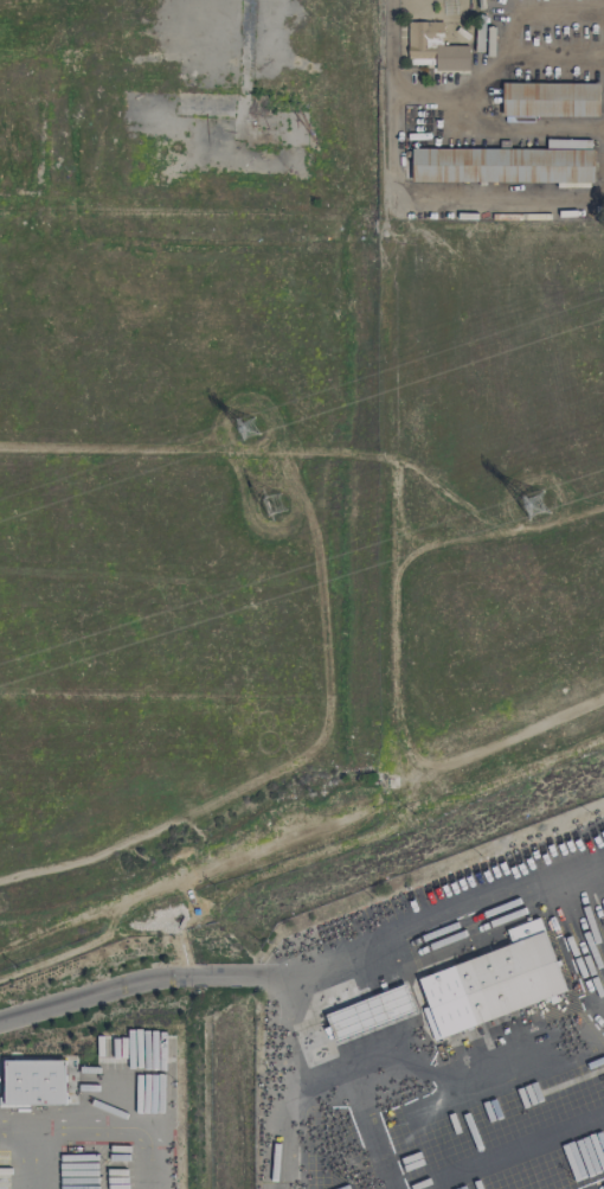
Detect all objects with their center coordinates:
building: (435, 46)
road: (491, 68)
building: (551, 98)
road: (386, 104)
road: (520, 134)
building: (502, 165)
road: (497, 193)
power tower: (248, 428)
power tower: (533, 504)
power tower: (274, 505)
road: (308, 966)
building: (449, 998)
road: (278, 1080)
building: (36, 1082)
road: (360, 1102)
road: (91, 1127)
road: (13, 1137)
road: (507, 1152)

